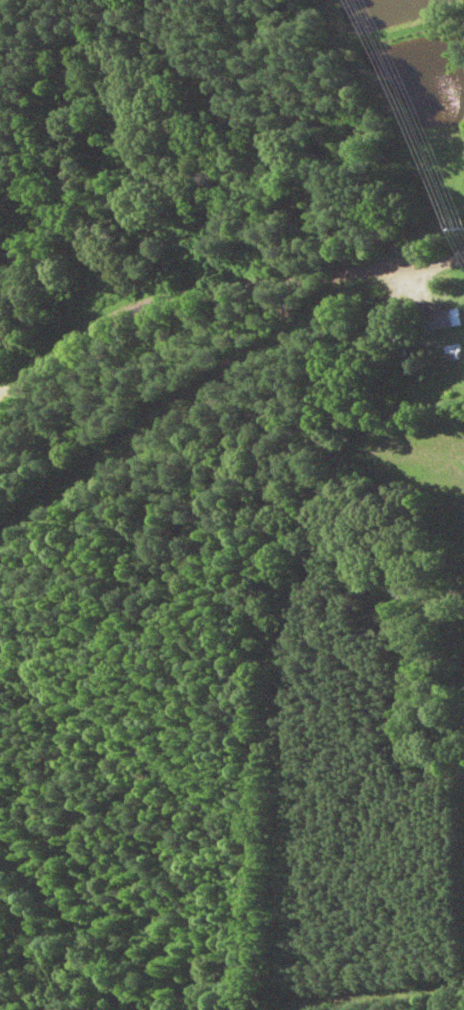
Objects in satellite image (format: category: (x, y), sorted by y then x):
road: (223, 260)
building: (441, 319)

